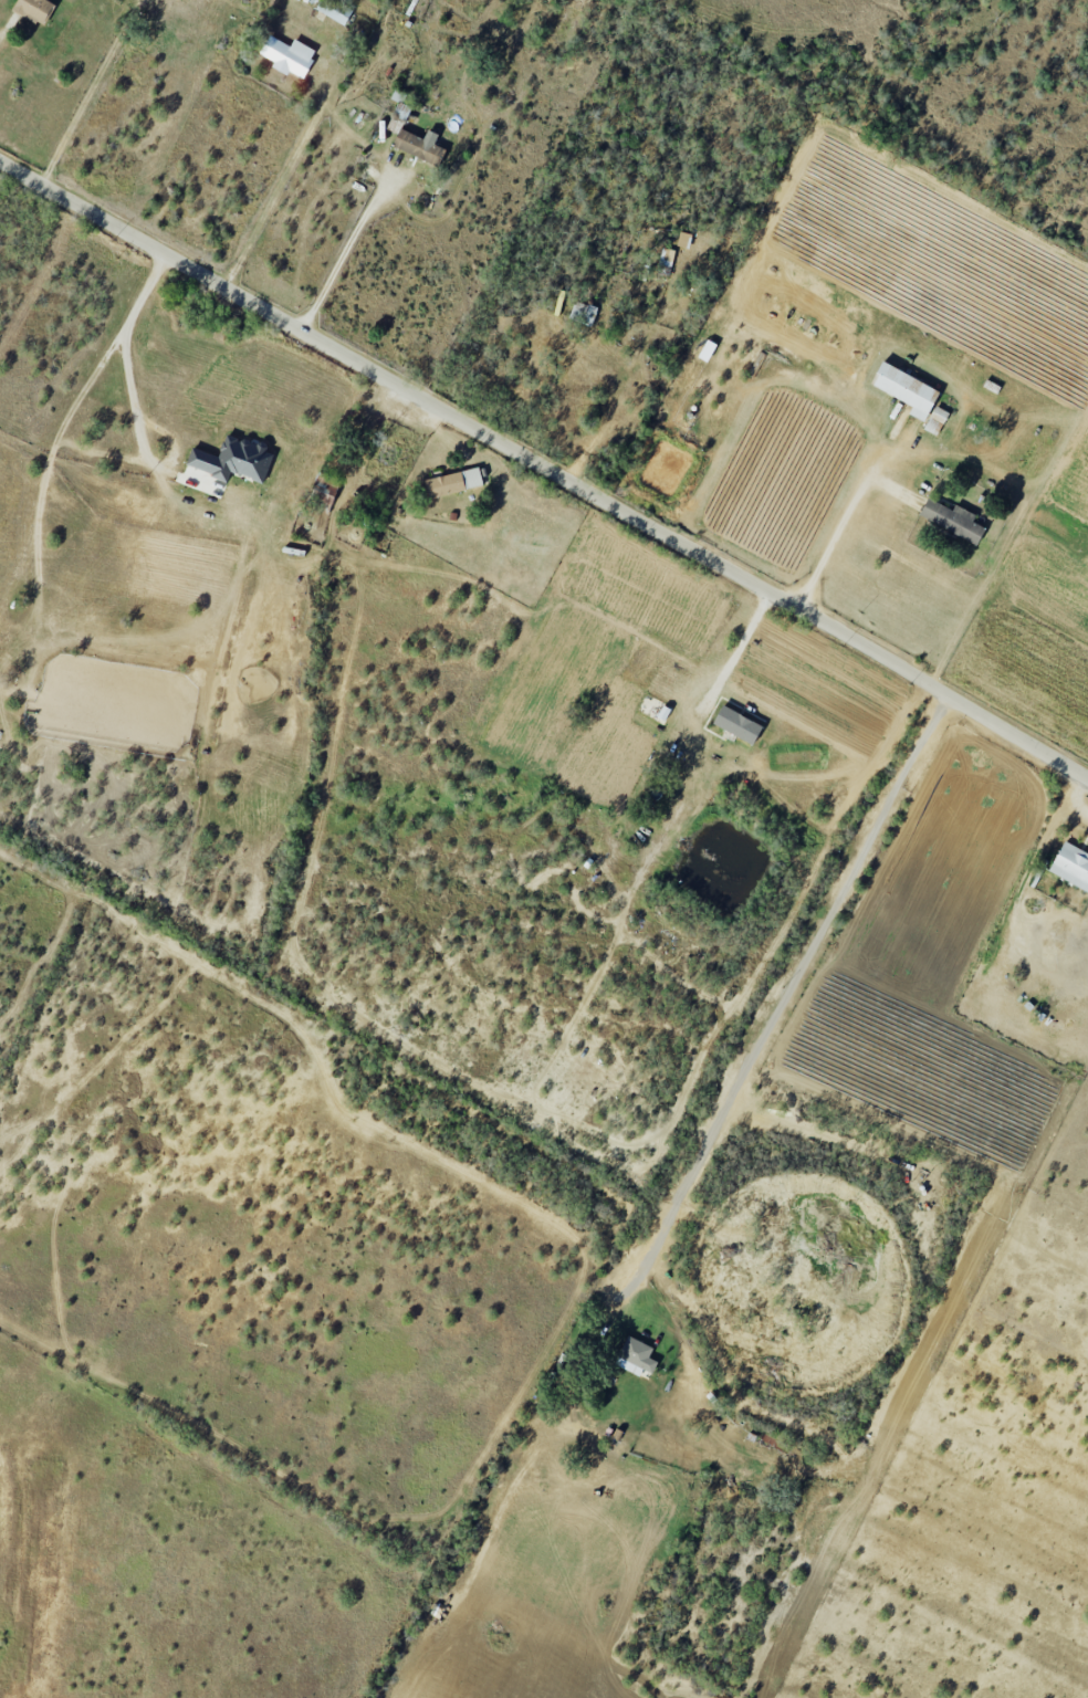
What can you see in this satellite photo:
building: (34, 9)
building: (335, 10)
road: (0, 31)
building: (289, 55)
road: (90, 93)
building: (420, 146)
road: (283, 176)
road: (345, 248)
building: (907, 389)
road: (617, 395)
road: (138, 411)
road: (62, 428)
building: (233, 460)
road: (543, 472)
building: (454, 483)
building: (324, 491)
building: (953, 520)
road: (831, 545)
road: (731, 651)
building: (737, 724)
road: (1075, 798)
building: (1071, 864)
road: (794, 1014)
building: (637, 1358)

